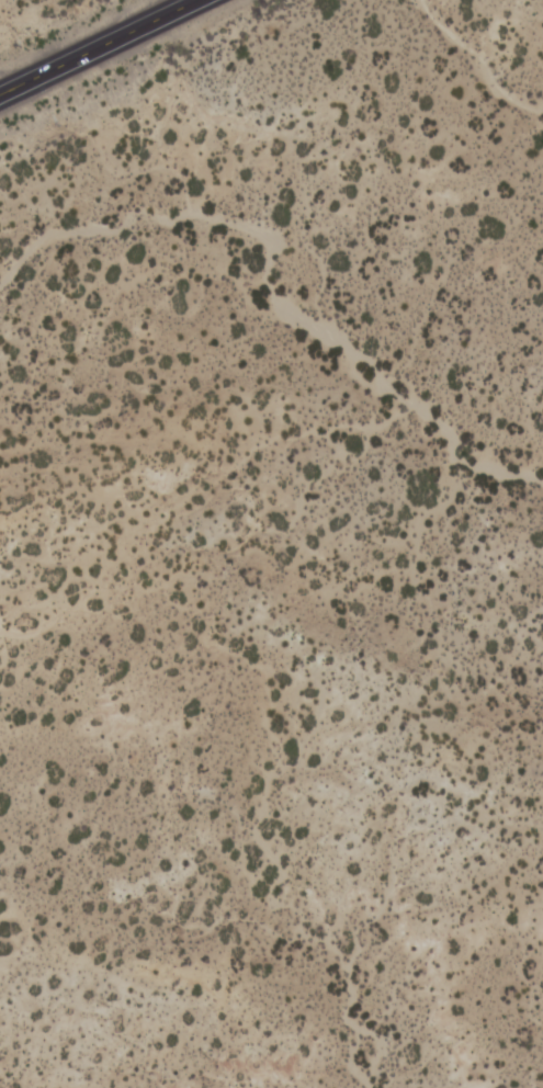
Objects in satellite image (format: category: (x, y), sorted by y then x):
road: (94, 45)

